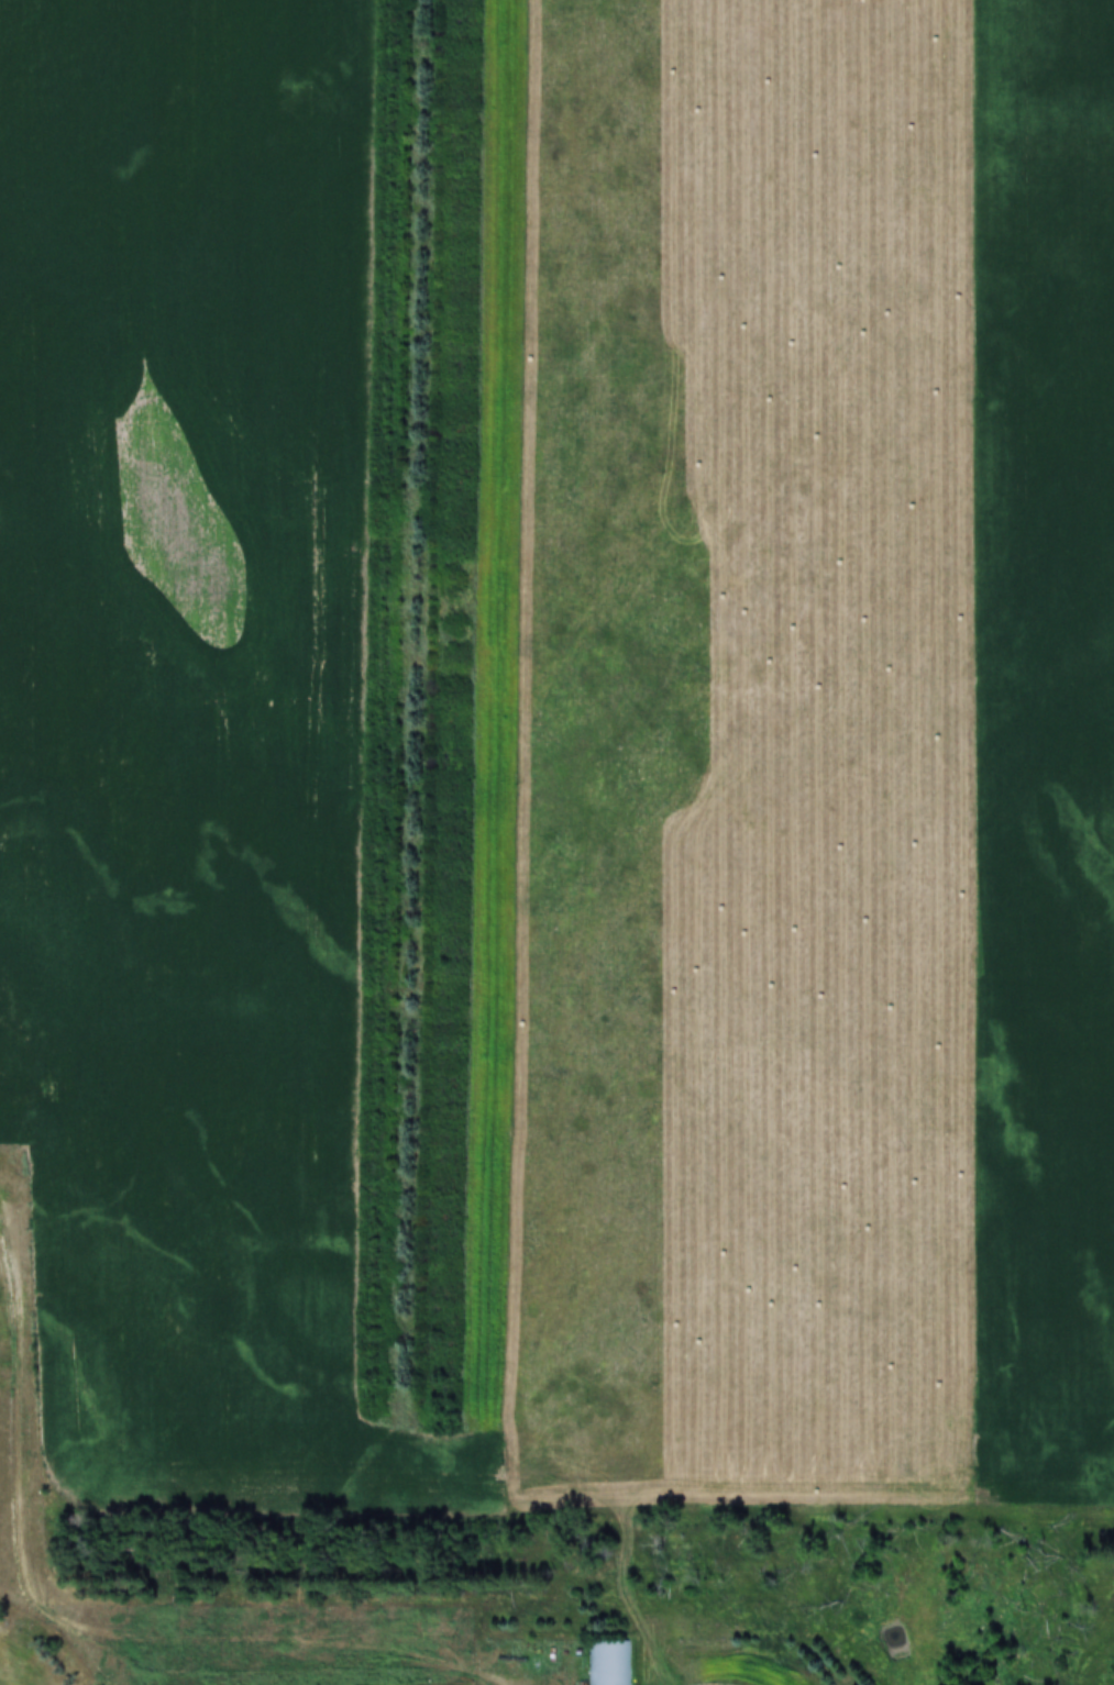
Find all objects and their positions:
building: (607, 1663)

